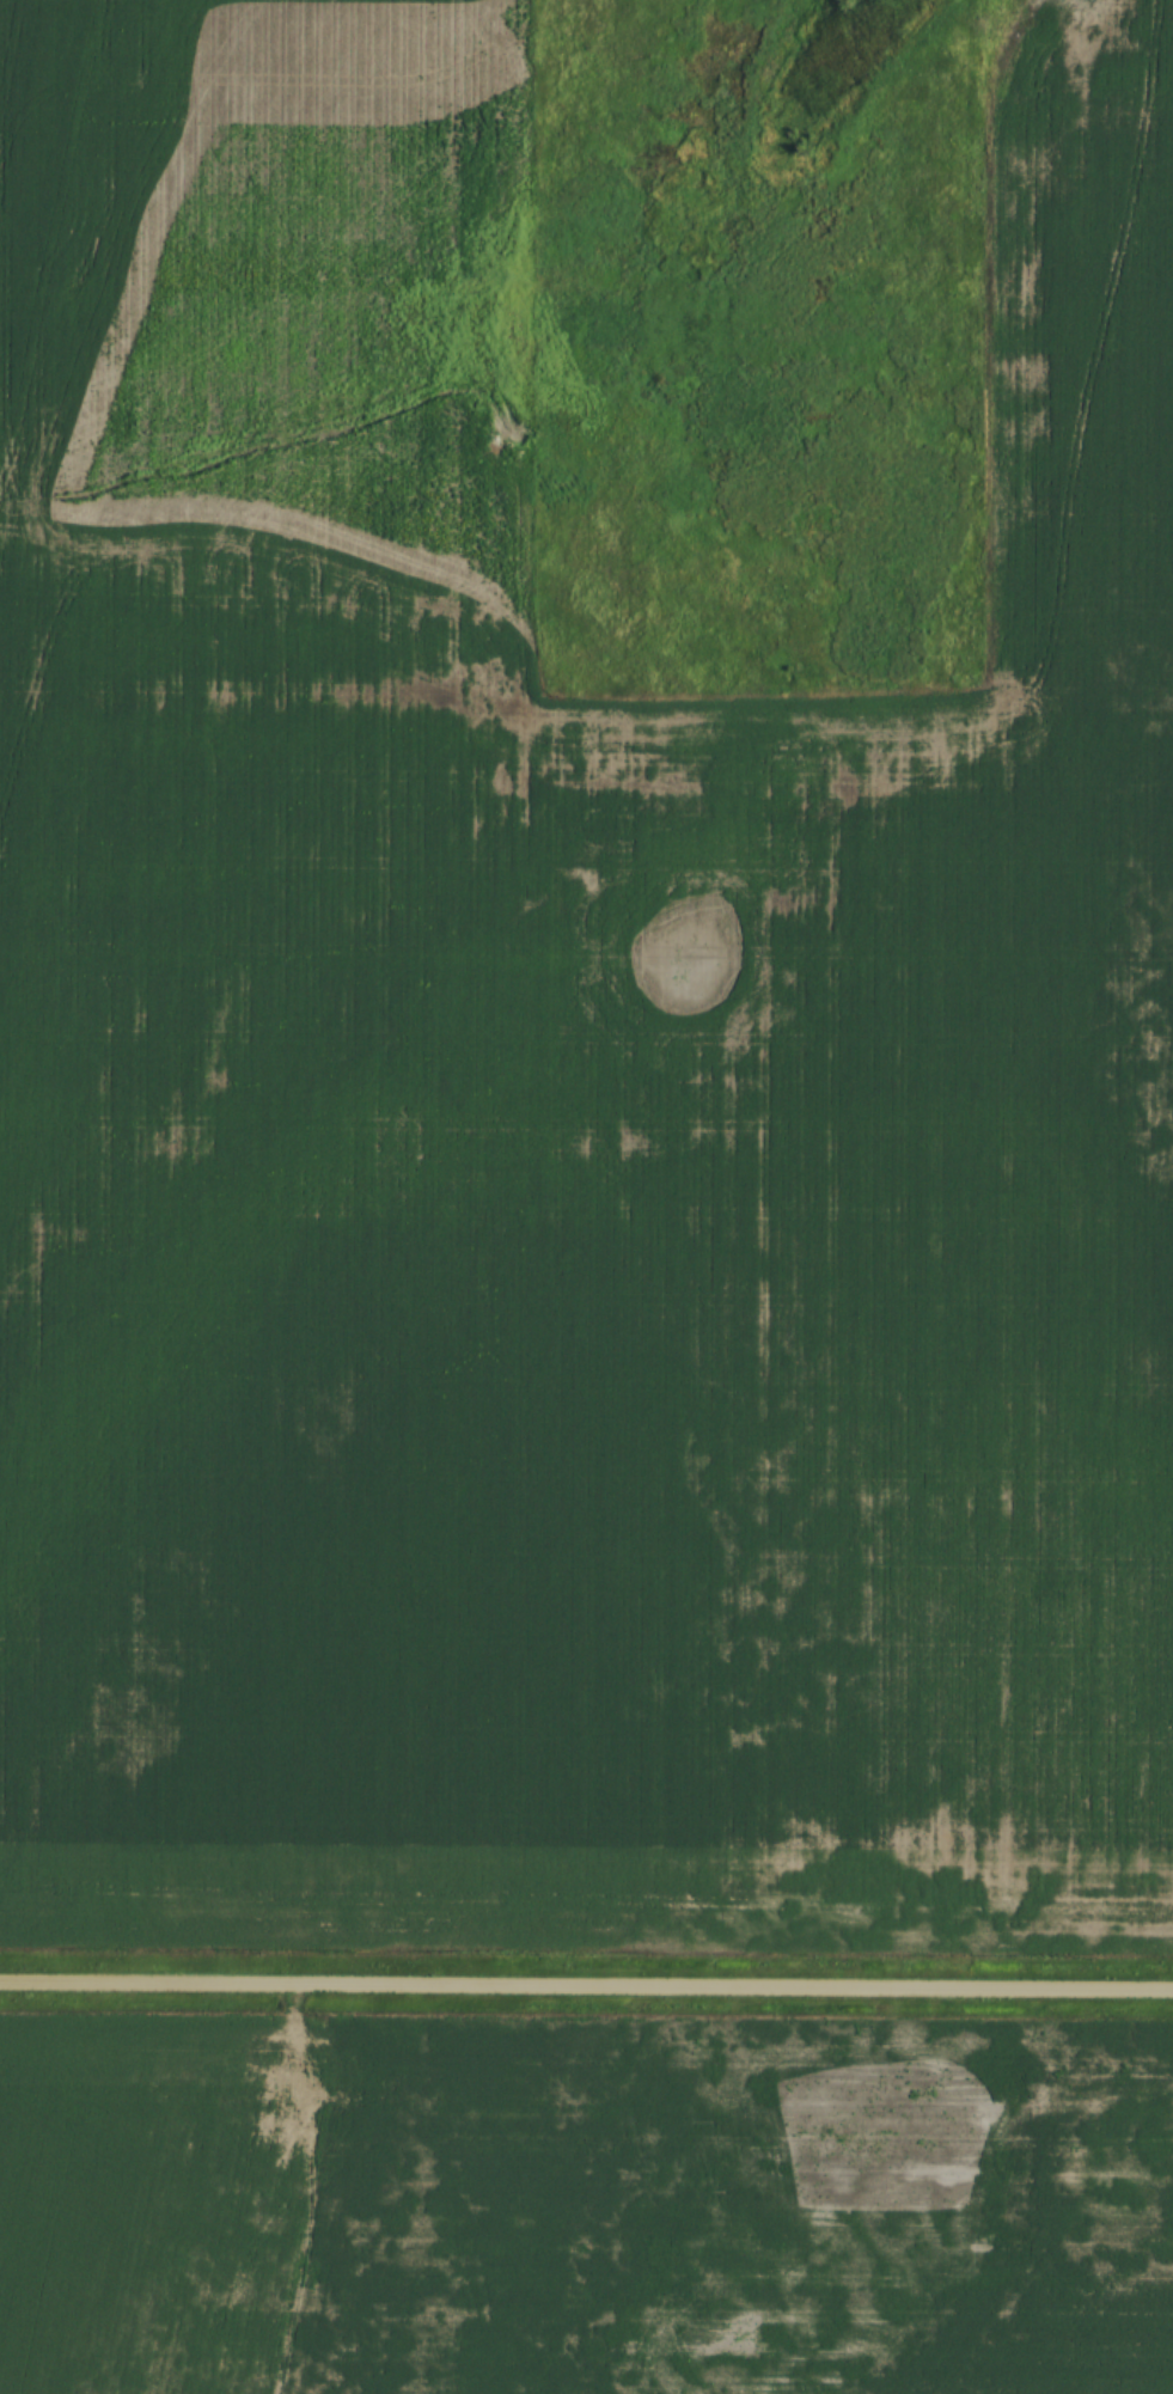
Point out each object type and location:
road: (586, 1979)

